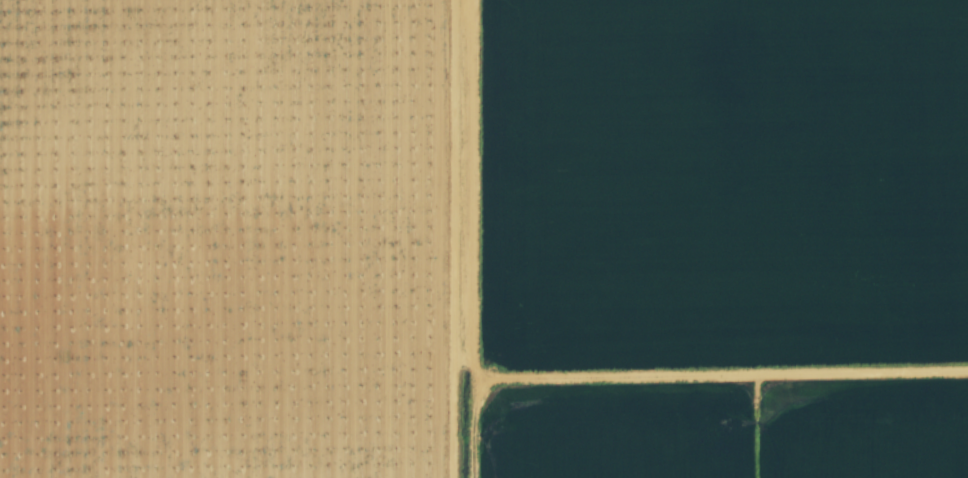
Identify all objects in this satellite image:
road: (456, 238)

